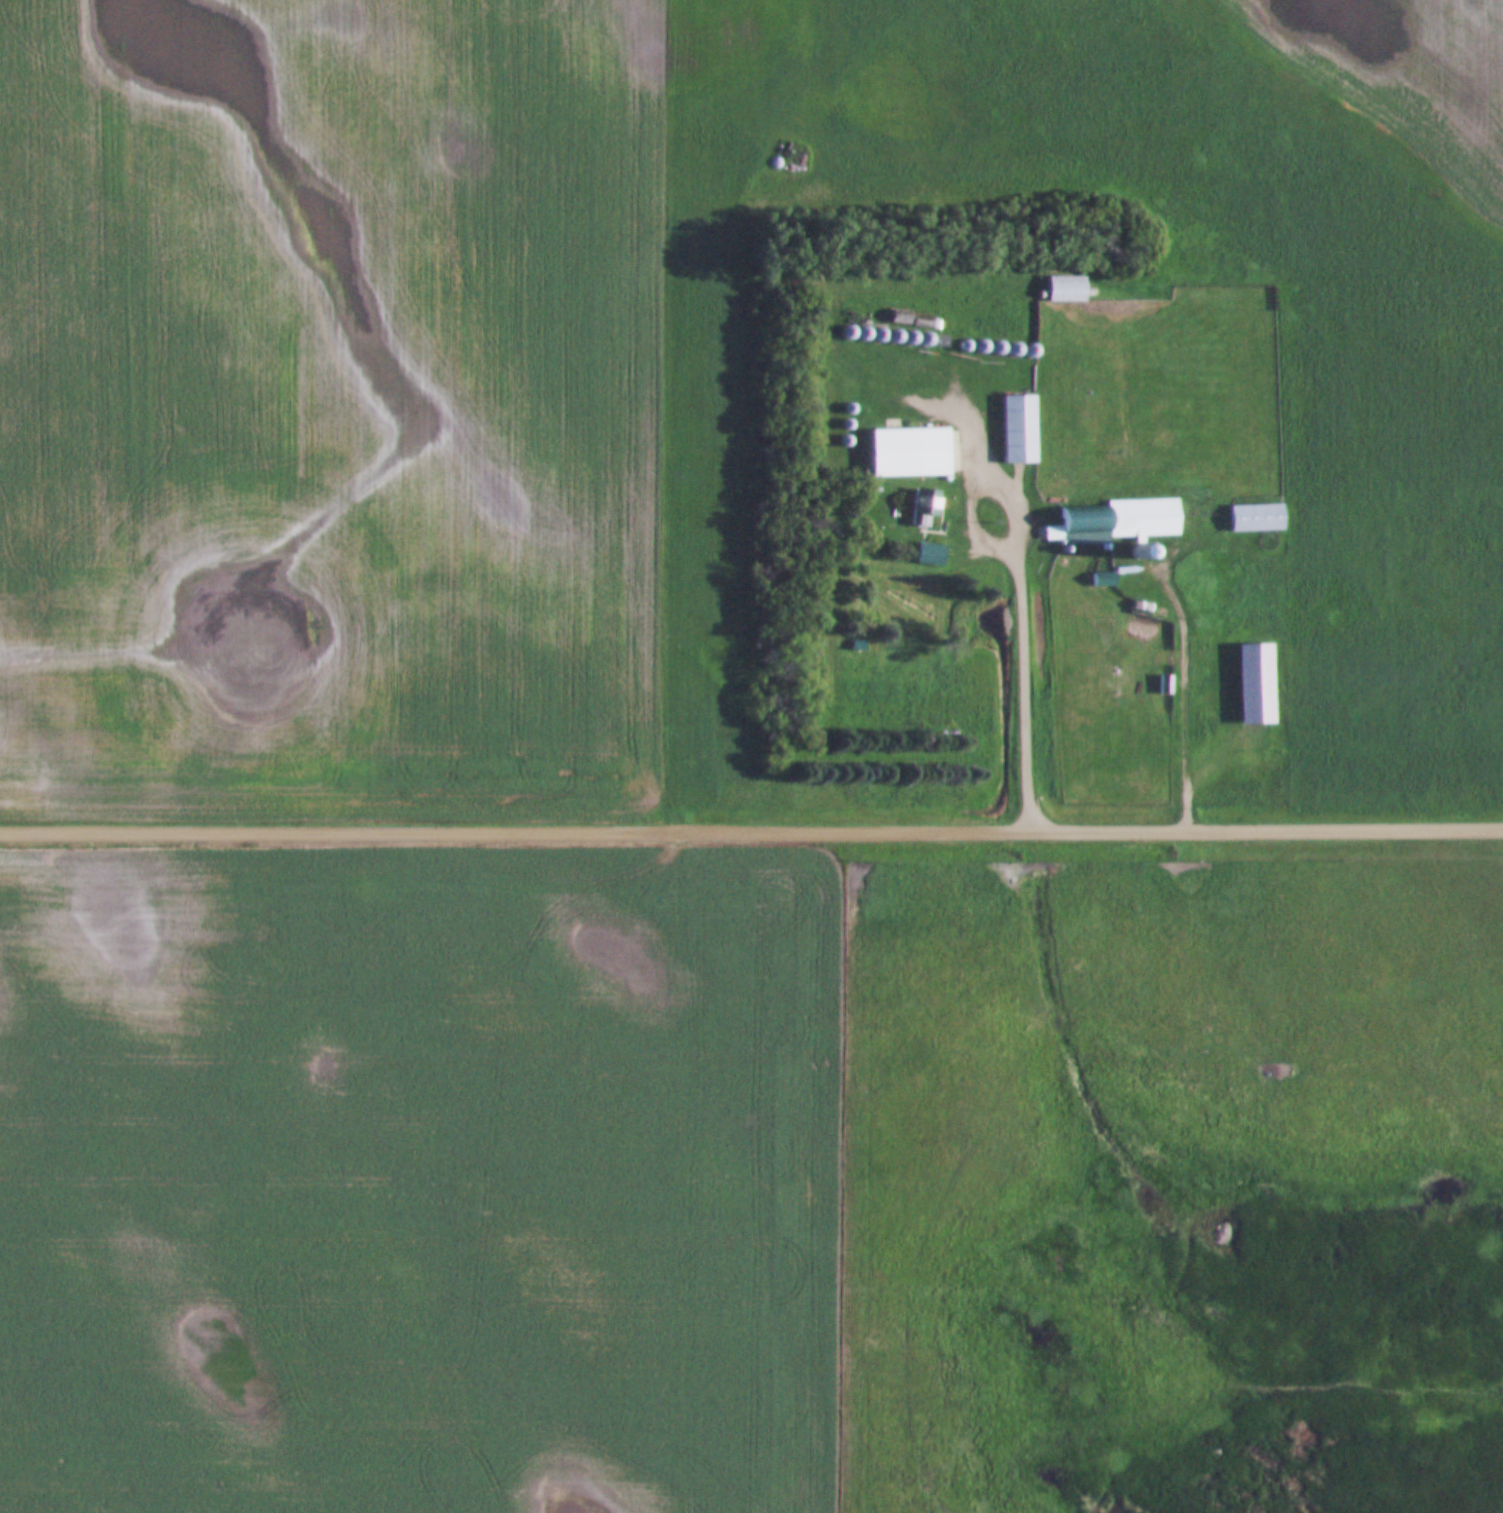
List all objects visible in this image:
building: (1066, 291)
road: (805, 300)
road: (959, 406)
building: (1019, 431)
building: (912, 454)
building: (925, 509)
building: (1256, 519)
building: (1116, 523)
building: (935, 556)
road: (1018, 595)
building: (858, 648)
road: (1181, 671)
building: (1247, 683)
road: (751, 829)

